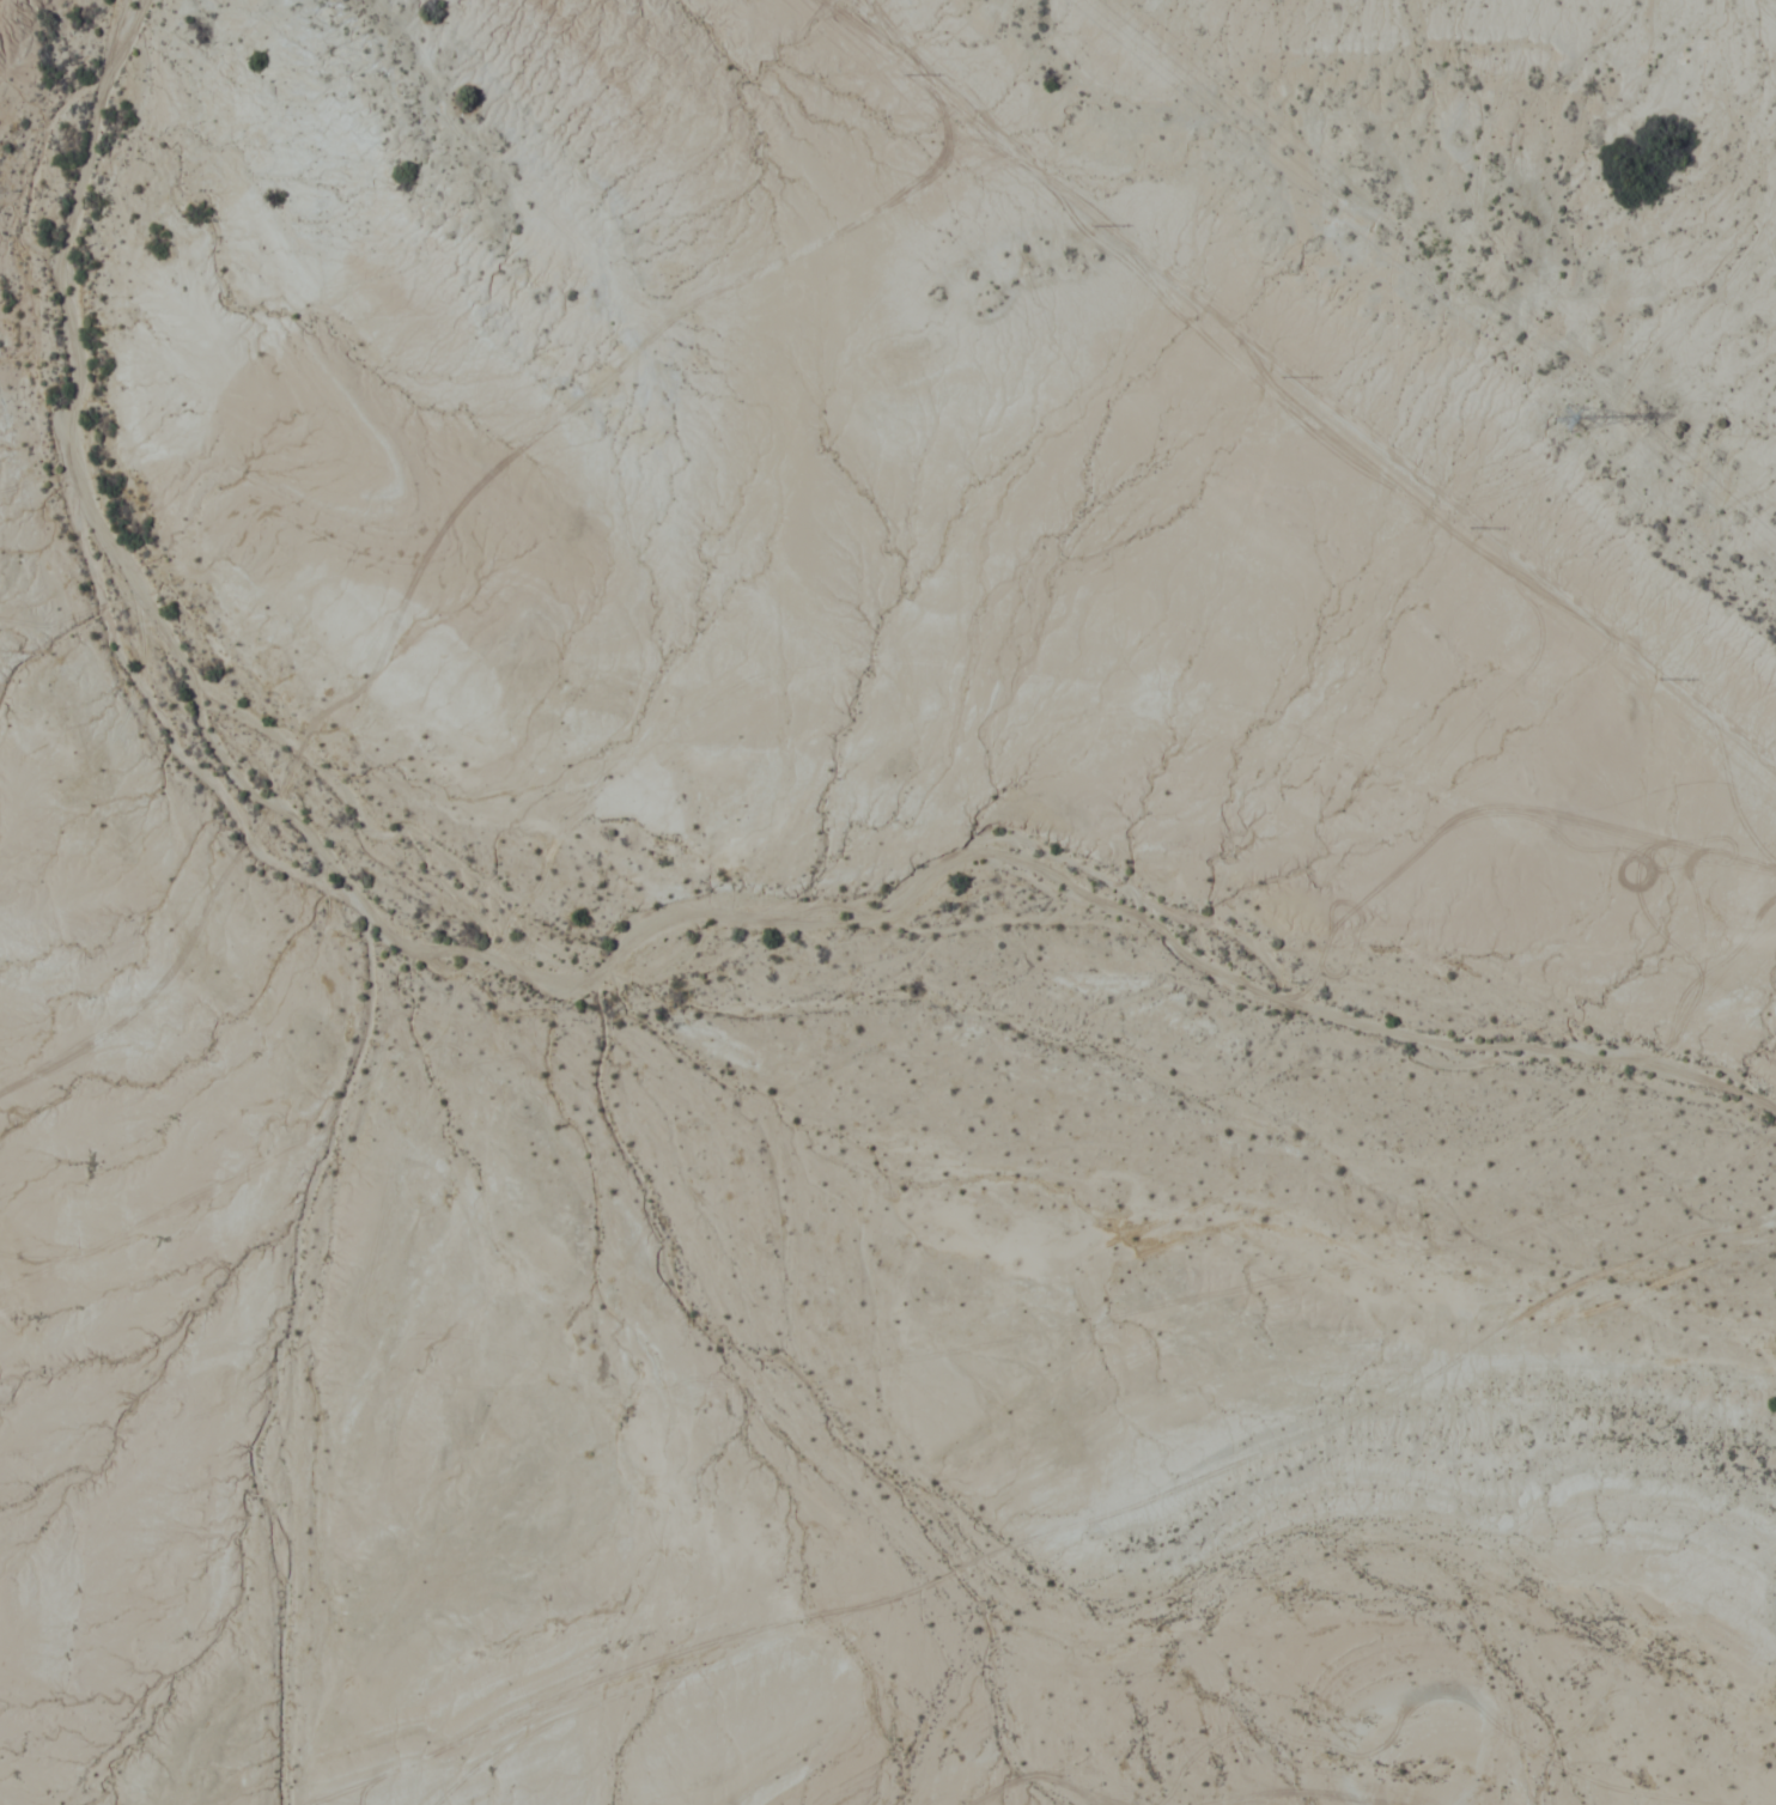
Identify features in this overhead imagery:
power tower: (1576, 429)

